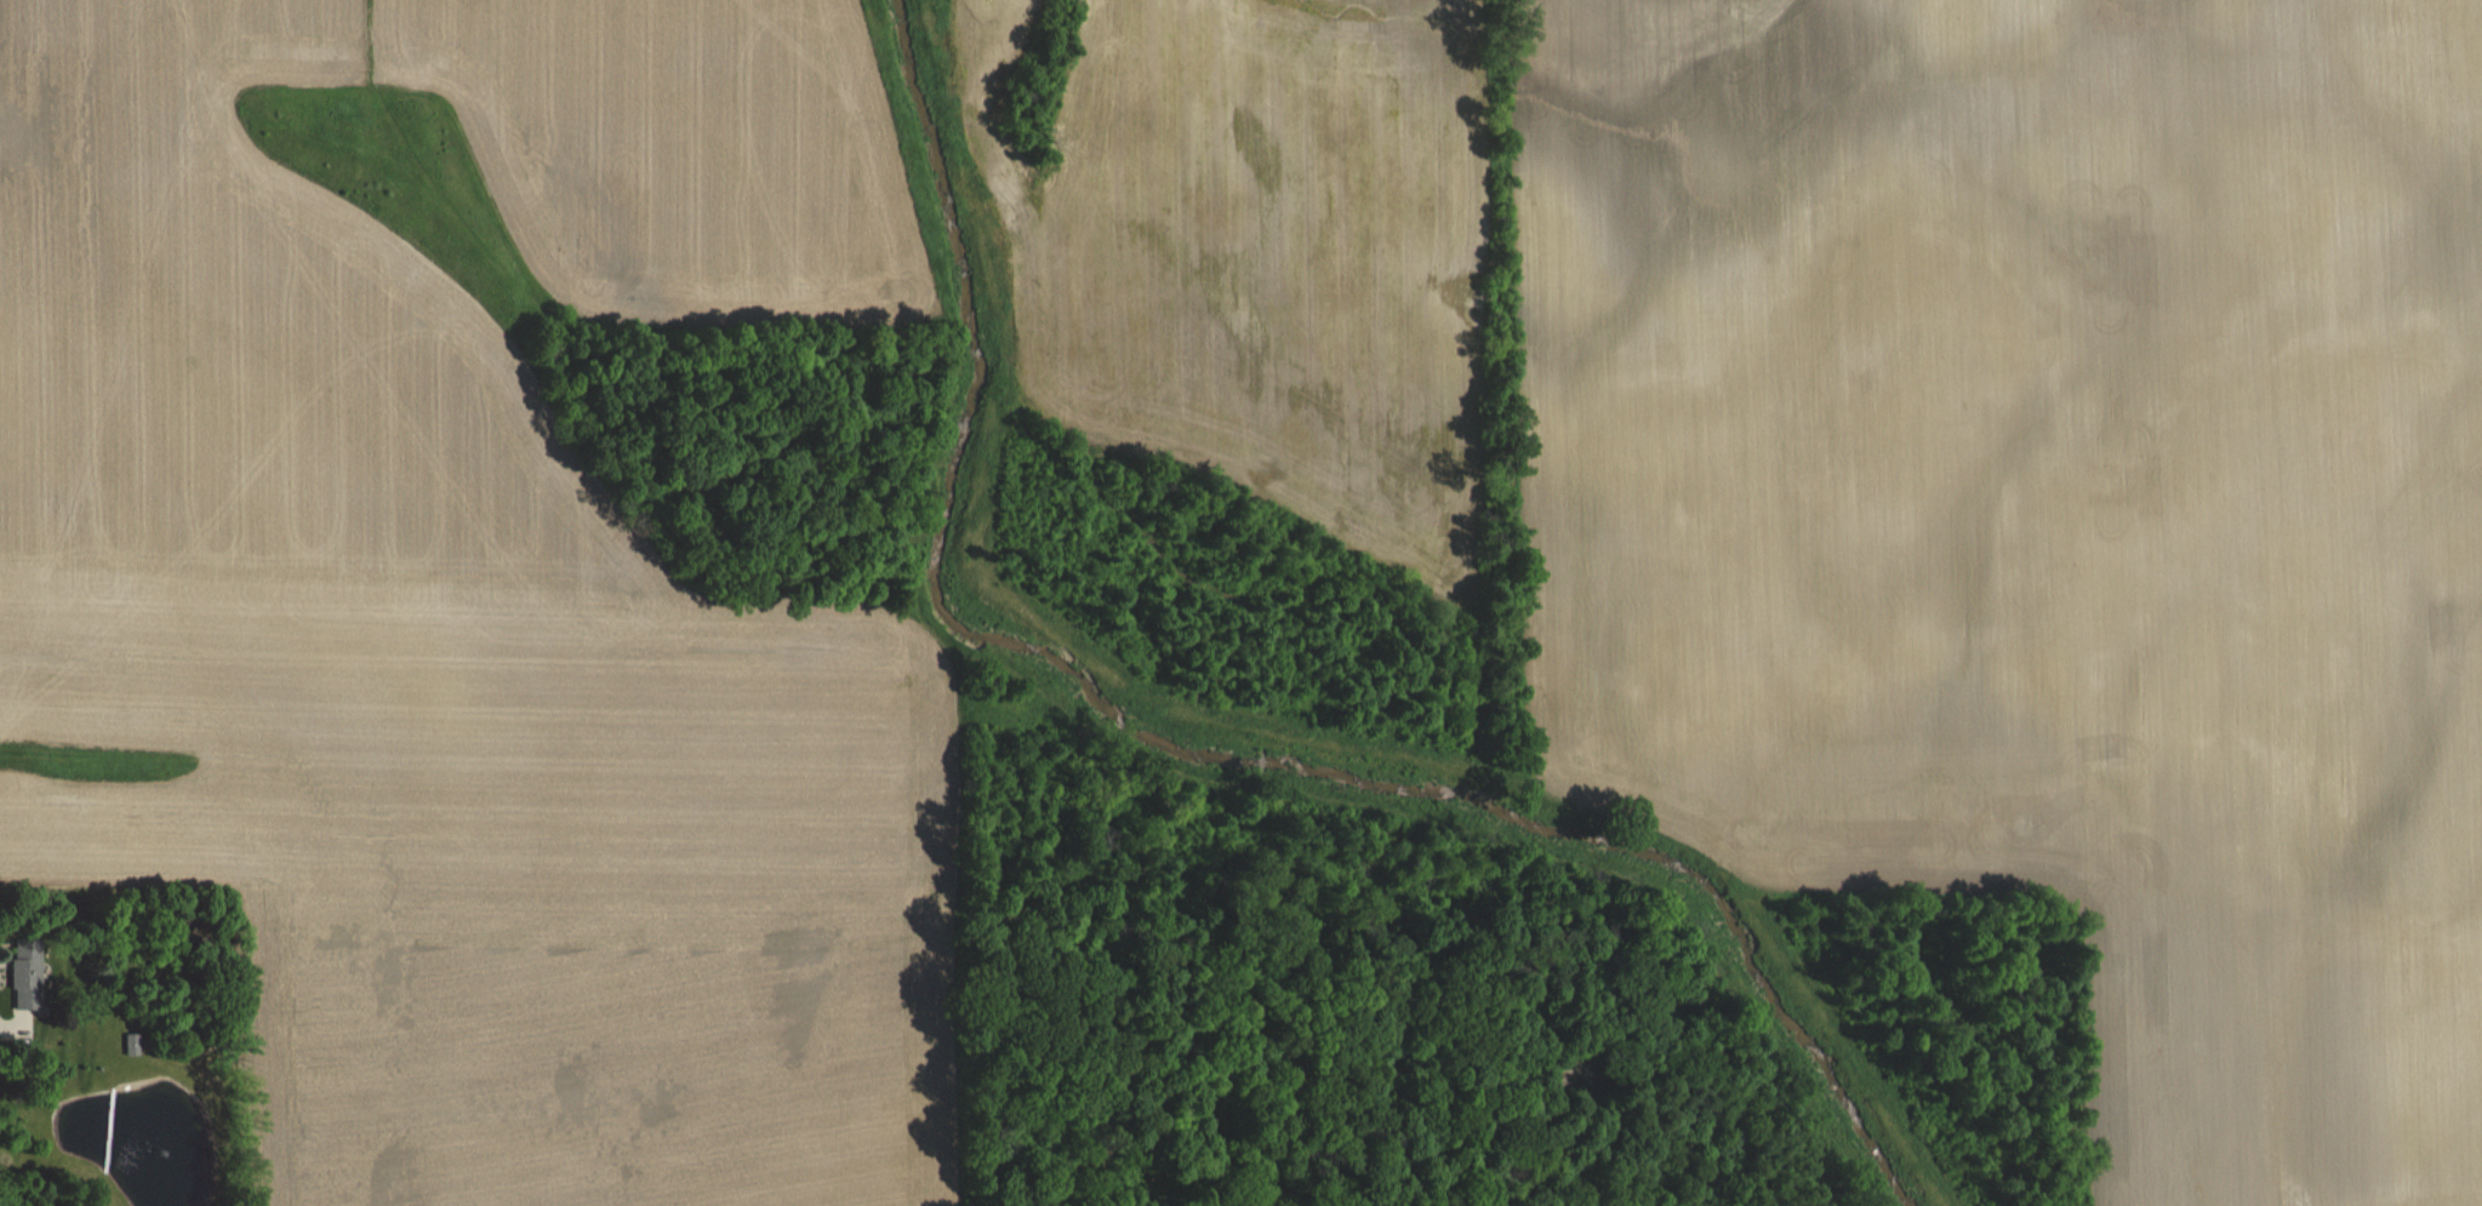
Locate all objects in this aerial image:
building: (29, 974)

